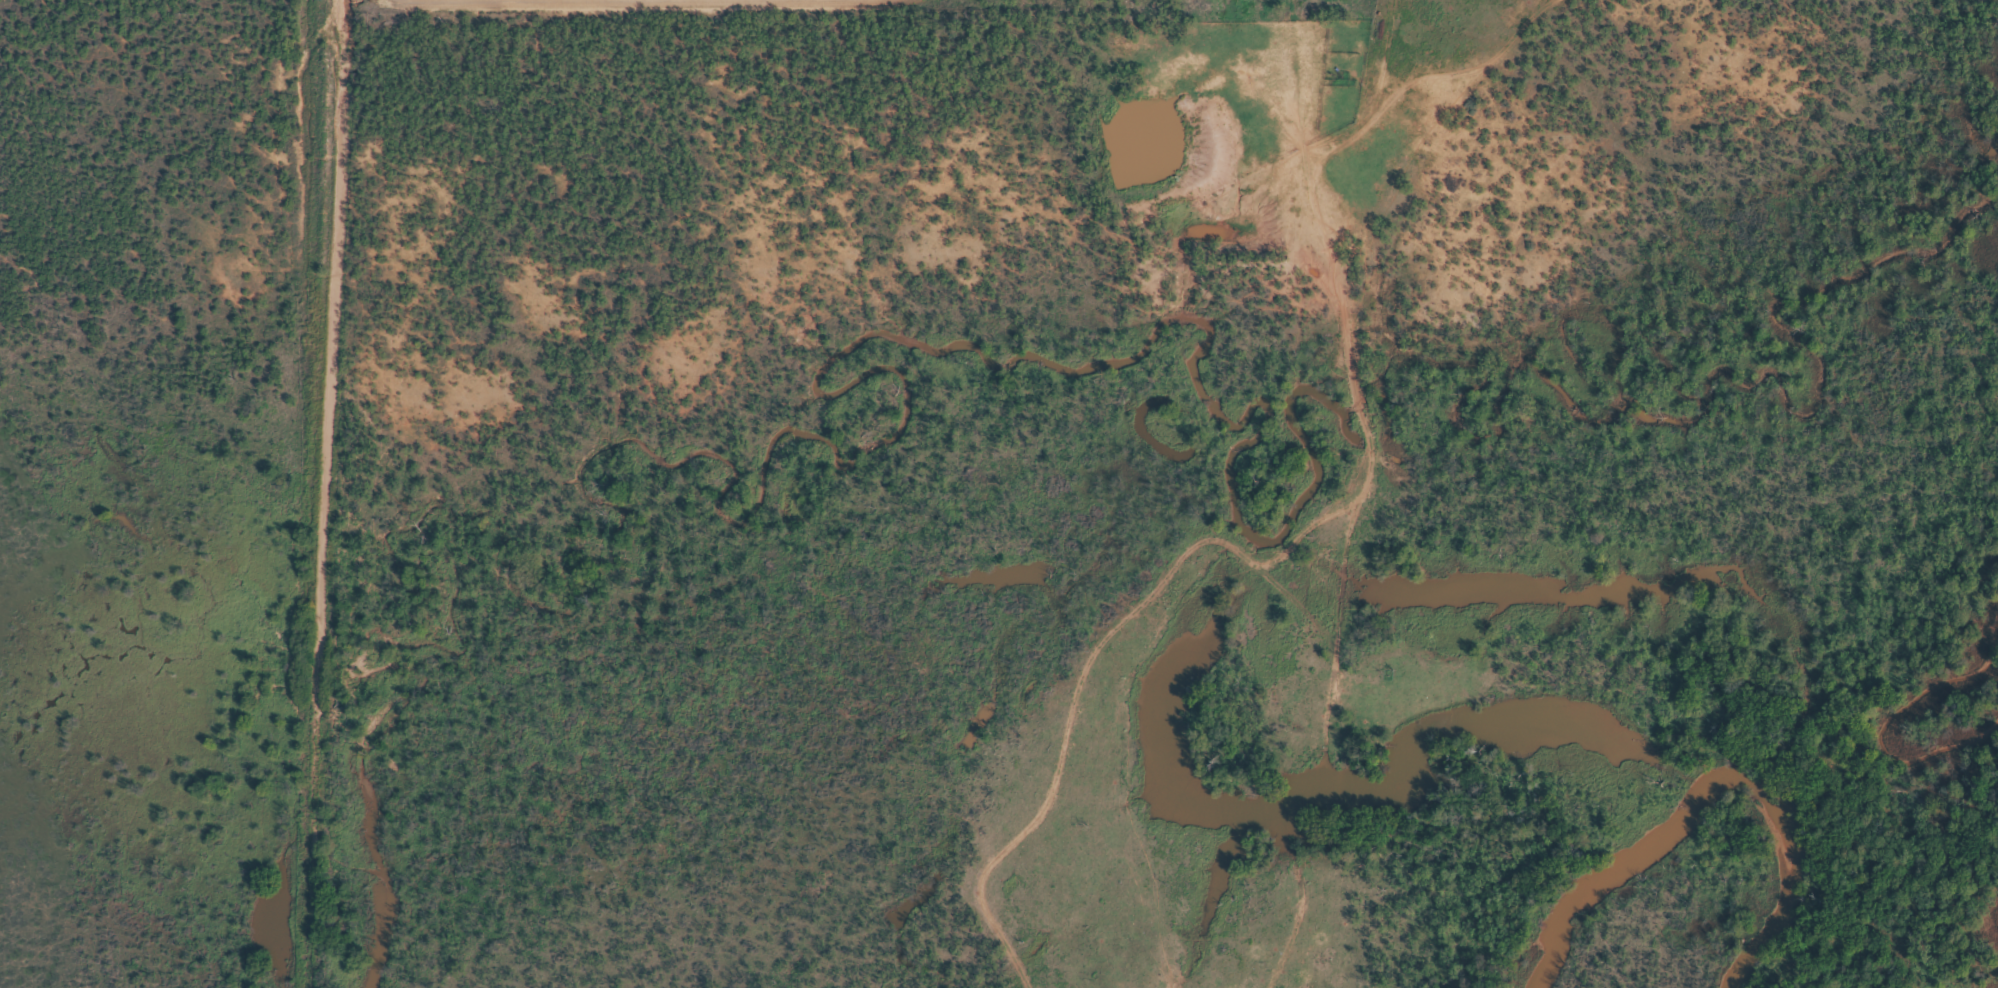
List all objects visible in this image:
road: (325, 493)

